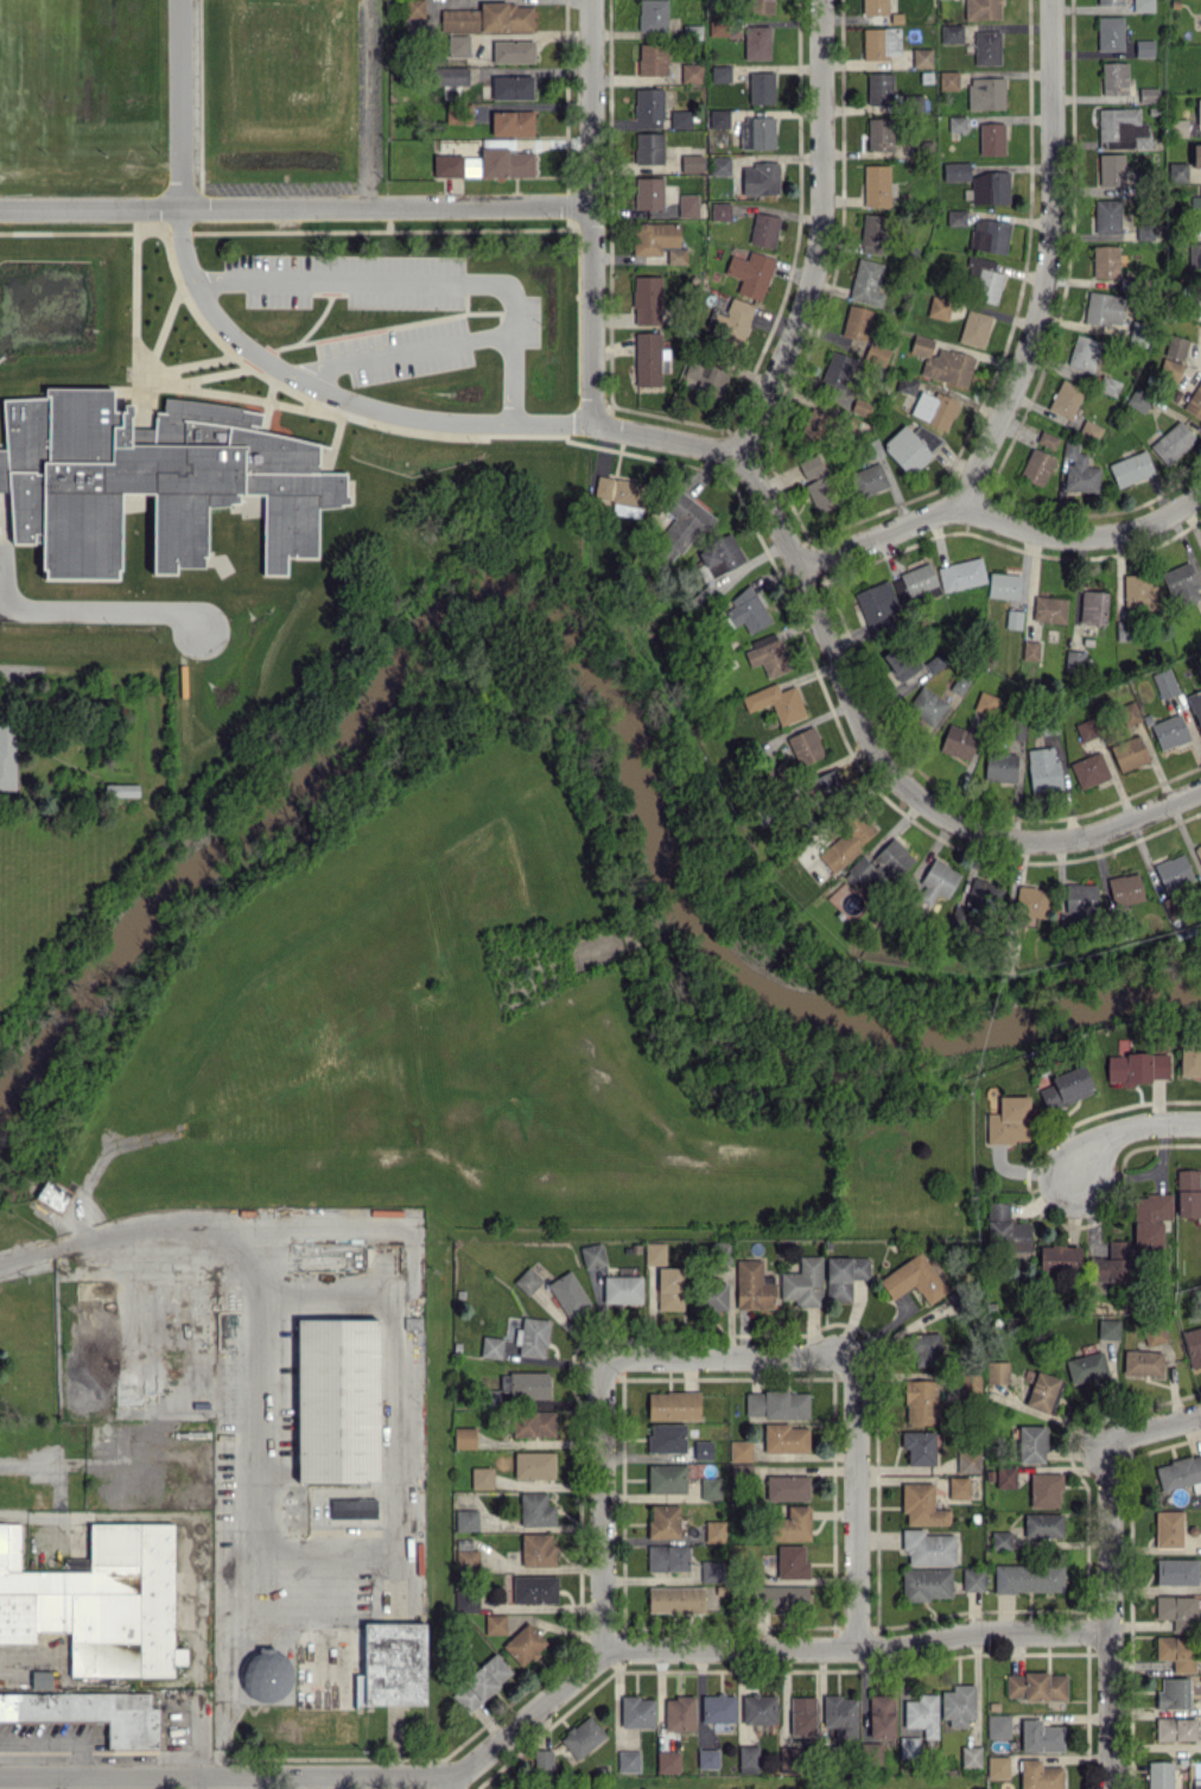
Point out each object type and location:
road: (180, 103)
road: (362, 103)
road: (294, 207)
road: (591, 210)
road: (818, 234)
road: (417, 279)
parking lot: (215, 291)
road: (1029, 342)
road: (405, 351)
parking lot: (21, 361)
road: (333, 393)
road: (1081, 534)
road: (106, 611)
track: (253, 618)
river: (578, 656)
road: (852, 699)
building: (0, 716)
park: (475, 1015)
road: (1125, 1130)
road: (85, 1241)
road: (731, 1357)
road: (396, 1368)
road: (1156, 1428)
road: (256, 1478)
road: (860, 1501)
road: (603, 1504)
road: (1106, 1613)
road: (758, 1647)
road: (229, 1778)
road: (55, 1783)
road: (188, 1783)
road: (314, 1783)
road: (459, 1783)

